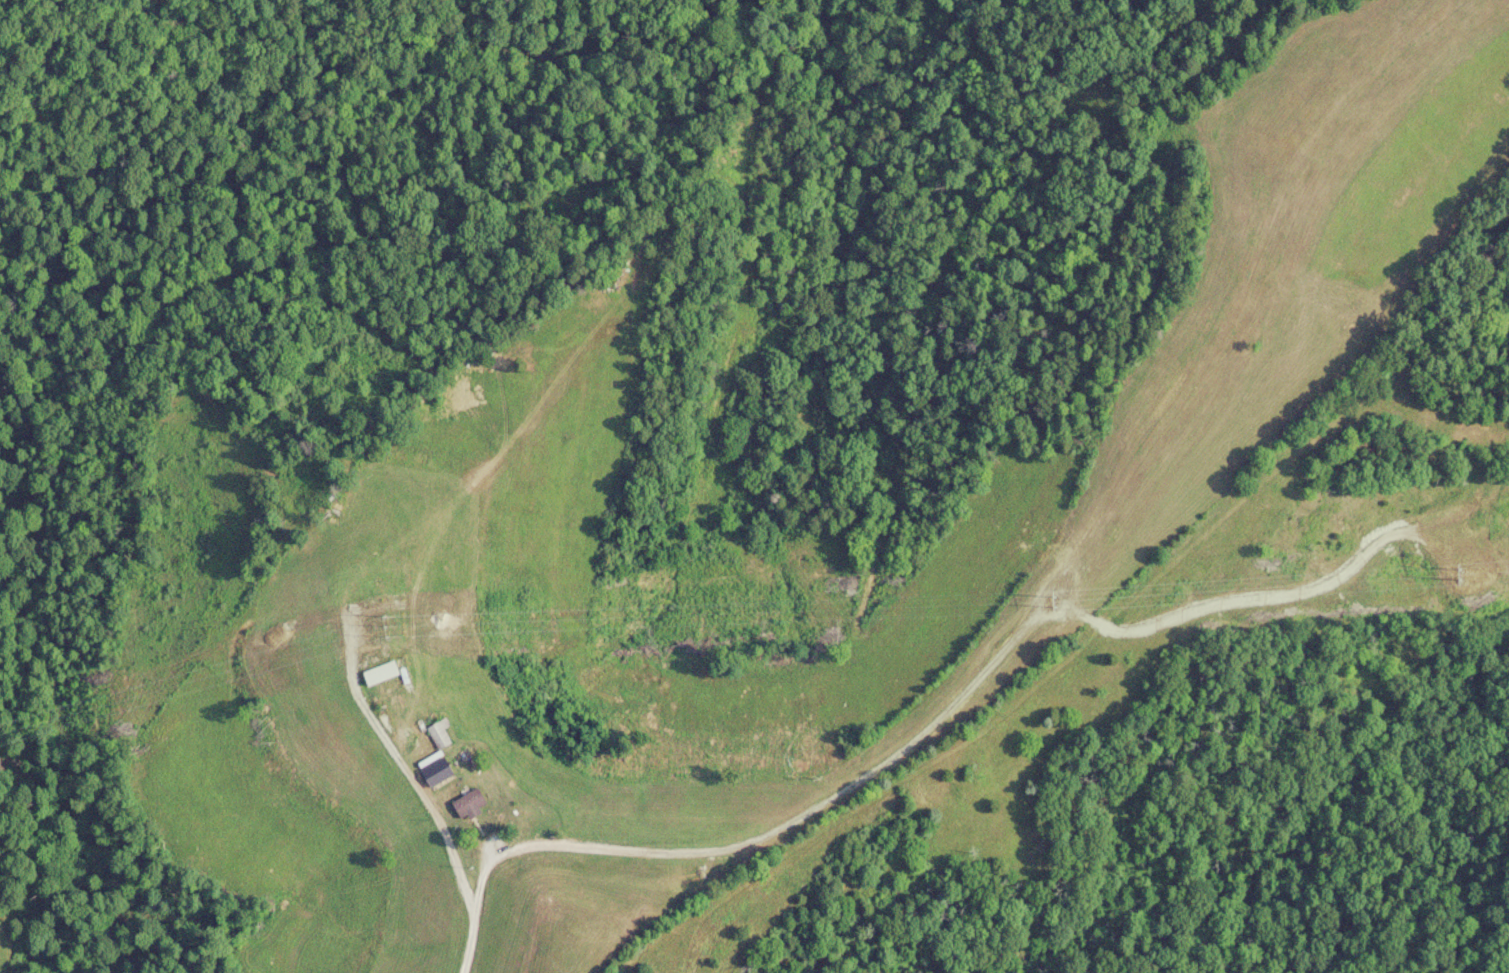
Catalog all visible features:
building: (597, 301)
building: (381, 673)
building: (405, 730)
building: (439, 734)
building: (437, 772)
building: (470, 804)
road: (476, 914)

